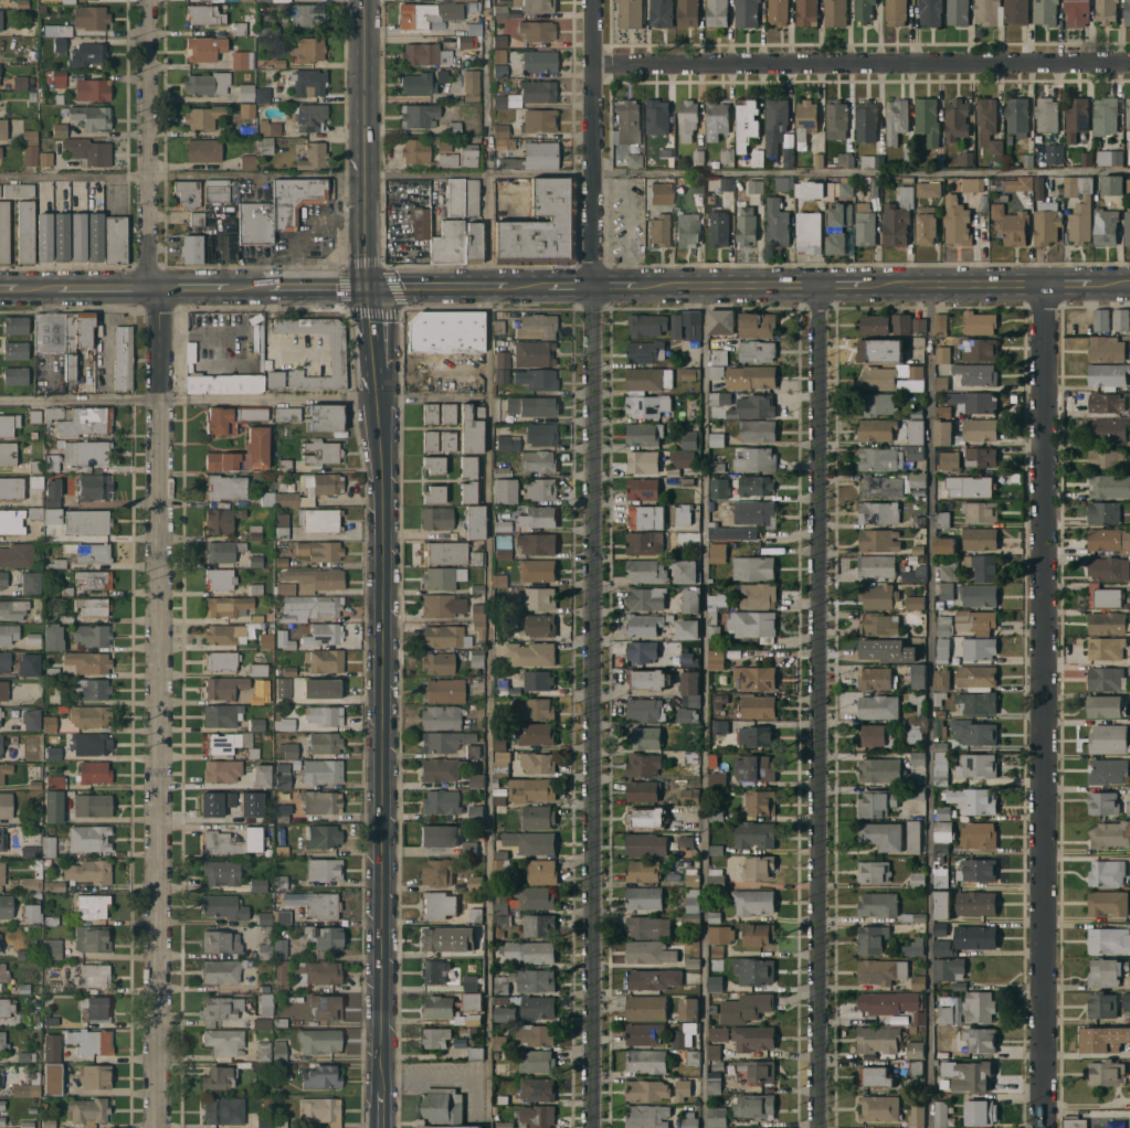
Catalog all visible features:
building: (264, 0)
building: (68, 1)
building: (22, 3)
building: (468, 6)
building: (536, 6)
building: (41, 7)
building: (251, 7)
building: (865, 10)
building: (499, 11)
building: (779, 11)
building: (1016, 11)
building: (1106, 11)
building: (302, 12)
building: (688, 12)
building: (717, 12)
building: (747, 12)
building: (807, 12)
building: (897, 12)
building: (931, 12)
building: (958, 12)
building: (989, 12)
building: (1046, 12)
building: (1077, 12)
building: (1127, 12)
building: (204, 13)
building: (429, 13)
building: (631, 13)
building: (662, 13)
building: (836, 13)
building: (91, 17)
building: (1, 20)
building: (239, 28)
building: (270, 30)
building: (537, 30)
building: (65, 31)
building: (498, 40)
building: (466, 41)
building: (60, 45)
building: (204, 47)
building: (308, 49)
building: (32, 53)
building: (420, 53)
building: (87, 54)
building: (498, 55)
building: (242, 58)
building: (539, 61)
building: (279, 63)
road: (860, 63)
building: (455, 70)
building: (499, 71)
building: (56, 77)
building: (20, 82)
building: (308, 82)
building: (207, 83)
building: (418, 83)
building: (472, 85)
building: (93, 89)
building: (537, 91)
building: (246, 92)
building: (263, 94)
building: (33, 96)
building: (41, 96)
building: (59, 98)
building: (499, 100)
building: (246, 109)
building: (1047, 114)
building: (419, 115)
building: (1107, 115)
building: (91, 116)
building: (657, 116)
building: (718, 116)
building: (1017, 116)
building: (202, 117)
building: (308, 117)
building: (1076, 117)
building: (806, 118)
building: (1128, 118)
building: (539, 119)
building: (687, 119)
building: (836, 119)
building: (897, 119)
building: (957, 119)
building: (928, 120)
building: (629, 121)
building: (867, 121)
building: (747, 123)
building: (775, 125)
building: (989, 126)
building: (3, 128)
building: (268, 128)
building: (454, 128)
building: (60, 129)
building: (245, 129)
building: (500, 130)
building: (30, 136)
building: (1010, 139)
building: (500, 142)
road: (363, 143)
building: (264, 145)
building: (88, 150)
building: (203, 150)
building: (427, 150)
building: (0, 151)
building: (1055, 153)
building: (30, 155)
building: (468, 155)
building: (728, 155)
building: (909, 155)
building: (313, 156)
building: (534, 156)
building: (788, 156)
building: (986, 156)
building: (1129, 156)
building: (699, 157)
building: (1110, 157)
building: (758, 158)
building: (965, 158)
building: (46, 159)
building: (635, 159)
building: (819, 159)
building: (1025, 159)
building: (848, 160)
building: (873, 160)
building: (247, 161)
building: (938, 161)
building: (1087, 161)
road: (860, 172)
road: (204, 173)
road: (477, 174)
road: (73, 175)
building: (908, 179)
building: (1039, 182)
building: (785, 183)
building: (1020, 183)
building: (728, 184)
building: (873, 184)
building: (969, 184)
building: (980, 184)
building: (1111, 184)
building: (697, 185)
building: (1071, 185)
building: (757, 187)
building: (929, 189)
building: (19, 190)
building: (217, 190)
building: (811, 190)
building: (838, 190)
building: (187, 193)
building: (662, 193)
building: (456, 196)
building: (472, 196)
building: (295, 200)
building: (983, 203)
building: (499, 204)
building: (997, 211)
building: (841, 214)
building: (899, 217)
building: (197, 219)
building: (1080, 221)
building: (256, 222)
building: (420, 222)
building: (777, 222)
building: (958, 222)
building: (1046, 222)
parking lot: (616, 224)
building: (865, 224)
building: (927, 224)
building: (747, 225)
building: (539, 226)
building: (1106, 226)
building: (1016, 227)
building: (1127, 227)
building: (718, 228)
building: (659, 230)
building: (687, 230)
building: (4, 231)
building: (25, 231)
building: (810, 231)
road: (307, 232)
building: (61, 236)
building: (78, 236)
building: (95, 236)
building: (44, 237)
building: (115, 240)
building: (836, 242)
building: (450, 243)
building: (473, 243)
building: (191, 249)
road: (1111, 283)
road: (842, 284)
road: (955, 284)
road: (1068, 284)
road: (439, 285)
road: (552, 285)
road: (622, 285)
road: (735, 285)
road: (306, 287)
traffic signals: (366, 287)
road: (201, 288)
road: (19, 289)
road: (96, 289)
building: (1101, 319)
building: (1121, 319)
building: (722, 321)
building: (901, 322)
building: (979, 322)
building: (691, 323)
building: (875, 323)
building: (14, 324)
building: (455, 324)
building: (647, 324)
building: (757, 324)
building: (919, 324)
building: (941, 324)
building: (498, 326)
building: (536, 326)
building: (676, 326)
building: (84, 329)
building: (425, 330)
building: (51, 333)
road: (370, 343)
building: (694, 343)
building: (71, 345)
building: (978, 348)
building: (1108, 348)
building: (15, 350)
building: (880, 350)
building: (337, 351)
building: (645, 351)
building: (757, 351)
building: (534, 352)
building: (942, 354)
building: (718, 355)
building: (123, 358)
building: (501, 359)
building: (266, 363)
building: (715, 371)
building: (916, 372)
building: (690, 373)
building: (976, 374)
building: (15, 375)
building: (500, 375)
building: (1108, 375)
building: (751, 376)
building: (219, 379)
building: (536, 379)
building: (648, 379)
building: (878, 379)
building: (941, 383)
building: (720, 397)
road: (244, 401)
building: (974, 401)
building: (1105, 402)
building: (652, 404)
building: (876, 404)
building: (531, 405)
building: (753, 406)
building: (1129, 406)
building: (1129, 409)
building: (477, 411)
building: (943, 412)
building: (52, 413)
building: (430, 413)
building: (447, 413)
building: (917, 413)
building: (288, 414)
building: (34, 415)
building: (232, 417)
building: (326, 417)
building: (84, 421)
building: (8, 424)
building: (877, 428)
building: (980, 429)
building: (471, 430)
building: (759, 430)
building: (1108, 430)
building: (916, 432)
building: (943, 432)
building: (644, 433)
building: (33, 434)
building: (541, 434)
building: (717, 437)
building: (430, 440)
building: (447, 440)
building: (690, 440)
building: (507, 441)
building: (87, 451)
building: (321, 451)
building: (7, 453)
building: (243, 453)
building: (915, 453)
building: (980, 457)
building: (1106, 457)
building: (683, 458)
building: (880, 458)
building: (757, 459)
building: (949, 460)
building: (538, 461)
building: (643, 461)
building: (434, 464)
building: (717, 464)
building: (51, 465)
building: (285, 465)
building: (35, 466)
building: (468, 466)
building: (501, 471)
building: (675, 471)
building: (281, 477)
building: (918, 479)
building: (689, 481)
building: (36, 482)
building: (757, 485)
building: (970, 486)
building: (1109, 486)
building: (94, 487)
building: (225, 487)
building: (881, 487)
building: (11, 488)
building: (541, 488)
building: (311, 489)
building: (643, 489)
building: (505, 490)
building: (468, 491)
building: (434, 493)
building: (720, 496)
building: (267, 498)
building: (52, 500)
building: (980, 510)
building: (879, 512)
building: (1103, 512)
building: (35, 513)
building: (756, 513)
building: (680, 514)
building: (52, 515)
building: (538, 517)
building: (646, 517)
building: (437, 518)
building: (942, 519)
building: (221, 520)
building: (319, 520)
building: (12, 521)
building: (88, 521)
building: (474, 521)
building: (920, 521)
building: (503, 524)
building: (282, 525)
building: (52, 531)
building: (722, 531)
building: (255, 532)
building: (980, 538)
building: (685, 539)
building: (879, 540)
building: (1109, 540)
building: (645, 542)
building: (537, 543)
building: (735, 544)
building: (944, 544)
building: (503, 546)
building: (223, 550)
building: (319, 550)
building: (918, 550)
building: (88, 552)
building: (445, 552)
building: (718, 552)
building: (17, 554)
building: (476, 557)
building: (913, 560)
building: (255, 561)
building: (281, 562)
building: (60, 563)
road: (159, 563)
road: (488, 563)
road: (592, 563)
building: (878, 565)
building: (983, 566)
building: (753, 567)
building: (1109, 568)
building: (537, 570)
building: (646, 571)
building: (685, 571)
building: (949, 571)
building: (915, 576)
building: (443, 577)
building: (3, 578)
building: (94, 578)
building: (220, 578)
building: (315, 578)
building: (500, 579)
building: (710, 581)
building: (30, 582)
building: (285, 588)
building: (477, 588)
building: (716, 588)
building: (256, 589)
building: (67, 590)
building: (947, 590)
building: (979, 594)
building: (760, 595)
building: (1105, 595)
building: (878, 596)
building: (540, 597)
building: (646, 598)
building: (691, 599)
building: (915, 603)
building: (437, 605)
building: (1127, 605)
building: (93, 606)
building: (228, 606)
building: (307, 607)
building: (13, 608)
building: (477, 613)
building: (715, 616)
building: (47, 617)
building: (66, 617)
building: (256, 618)
building: (975, 620)
building: (1107, 622)
building: (643, 624)
building: (880, 624)
building: (541, 625)
building: (752, 625)
building: (944, 625)
building: (478, 628)
building: (688, 629)
building: (325, 632)
building: (8, 634)
building: (225, 634)
building: (92, 635)
building: (500, 635)
building: (444, 636)
building: (33, 637)
building: (53, 637)
building: (258, 640)
building: (265, 640)
building: (288, 643)
building: (1106, 647)
building: (876, 648)
building: (915, 648)
building: (979, 648)
building: (942, 649)
building: (642, 651)
building: (531, 653)
building: (717, 653)
building: (476, 657)
building: (687, 657)
building: (222, 660)
building: (324, 660)
building: (4, 661)
building: (87, 661)
building: (439, 662)
building: (29, 664)
building: (258, 669)
building: (286, 670)
building: (919, 675)
building: (976, 677)
building: (757, 678)
building: (876, 678)
building: (1107, 678)
building: (651, 679)
building: (942, 679)
building: (538, 680)
building: (509, 681)
building: (690, 682)
building: (224, 687)
building: (283, 687)
building: (91, 688)
building: (323, 688)
building: (3, 690)
building: (444, 690)
building: (503, 690)
building: (717, 696)
building: (256, 699)
building: (938, 699)
building: (919, 702)
building: (978, 702)
road: (929, 705)
road: (1042, 705)
road: (706, 706)
building: (758, 706)
road: (816, 706)
building: (878, 706)
building: (1107, 706)
building: (537, 709)
building: (646, 709)
building: (689, 709)
building: (940, 713)
building: (222, 714)
building: (93, 715)
building: (325, 715)
building: (441, 717)
building: (30, 719)
building: (285, 723)
building: (50, 724)
building: (256, 724)
building: (719, 726)
building: (939, 728)
building: (915, 730)
building: (534, 733)
building: (975, 733)
building: (267, 735)
building: (758, 735)
building: (876, 735)
building: (645, 737)
building: (1109, 738)
road: (381, 741)
building: (444, 741)
building: (325, 742)
building: (76, 743)
building: (232, 743)
building: (499, 743)
building: (0, 744)
building: (947, 745)
building: (34, 751)
building: (291, 751)
building: (473, 751)
building: (690, 756)
building: (918, 758)
building: (474, 762)
building: (537, 762)
building: (501, 763)
building: (643, 764)
building: (979, 766)
building: (756, 767)
building: (440, 768)
building: (222, 769)
building: (880, 769)
building: (4, 770)
building: (321, 770)
building: (1107, 770)
building: (94, 771)
building: (284, 771)
building: (262, 775)
building: (718, 778)
building: (940, 779)
building: (476, 780)
building: (54, 781)
building: (496, 783)
building: (34, 784)
building: (531, 789)
building: (643, 790)
building: (919, 792)
building: (689, 795)
building: (499, 799)
building: (973, 800)
building: (320, 801)
building: (760, 801)
building: (876, 802)
building: (1102, 802)
building: (252, 804)
building: (93, 805)
building: (221, 805)
building: (440, 805)
building: (7, 806)
building: (53, 806)
building: (1129, 808)
building: (499, 809)
building: (282, 811)
building: (476, 812)
building: (944, 812)
building: (262, 813)
building: (35, 815)
building: (717, 815)
building: (538, 816)
building: (646, 817)
building: (943, 831)
building: (440, 834)
building: (754, 834)
building: (979, 834)
building: (1110, 834)
building: (323, 836)
building: (884, 836)
building: (913, 836)
building: (89, 838)
building: (2, 840)
building: (234, 841)
building: (532, 842)
building: (682, 842)
building: (645, 844)
building: (49, 845)
building: (469, 848)
building: (941, 848)
building: (716, 849)
building: (30, 851)
building: (500, 854)
building: (938, 858)
building: (501, 865)
building: (758, 866)
building: (325, 869)
building: (976, 869)
building: (645, 870)
building: (88, 871)
building: (874, 871)
building: (2, 872)
building: (222, 872)
building: (436, 872)
building: (542, 872)
building: (1107, 872)
building: (33, 876)
building: (941, 876)
building: (717, 879)
building: (693, 880)
building: (918, 880)
building: (281, 882)
building: (475, 882)
building: (53, 885)
building: (257, 885)
building: (536, 897)
building: (644, 897)
building: (693, 901)
building: (975, 903)
building: (1108, 903)
building: (439, 904)
building: (500, 904)
building: (754, 904)
building: (878, 904)
building: (6, 905)
building: (91, 905)
building: (323, 905)
building: (942, 905)
building: (224, 906)
building: (29, 913)
building: (474, 914)
building: (282, 916)
building: (715, 916)
building: (264, 917)
building: (912, 917)
building: (504, 919)
building: (691, 919)
building: (51, 921)
building: (539, 925)
building: (647, 927)
building: (267, 928)
building: (940, 929)
building: (720, 934)
building: (759, 934)
building: (501, 935)
building: (975, 936)
building: (0, 937)
building: (325, 937)
building: (92, 938)
building: (1109, 938)
building: (434, 939)
building: (873, 939)
building: (220, 941)
building: (944, 947)
building: (279, 948)
building: (912, 949)
building: (51, 950)
building: (264, 950)
building: (717, 950)
building: (529, 951)
building: (648, 951)
building: (22, 954)
building: (693, 962)
building: (716, 964)
building: (948, 968)
building: (220, 970)
building: (753, 970)
building: (881, 970)
building: (318, 971)
building: (434, 971)
building: (1107, 971)
building: (3, 972)
building: (95, 975)
building: (281, 976)
building: (653, 978)
building: (535, 980)
building: (715, 982)
building: (918, 982)
building: (471, 983)
building: (501, 985)
building: (960, 986)
building: (22, 988)
building: (946, 993)
building: (53, 997)
building: (500, 999)
building: (1126, 1000)
building: (893, 1003)
building: (265, 1004)
building: (450, 1004)
building: (1101, 1004)
building: (7, 1005)
building: (95, 1005)
building: (326, 1007)
building: (538, 1007)
building: (746, 1007)
building: (979, 1007)
building: (220, 1008)
building: (646, 1008)
building: (688, 1008)
building: (712, 1012)
building: (505, 1013)
building: (944, 1014)
building: (36, 1017)
building: (468, 1020)
building: (279, 1021)
building: (54, 1022)
building: (265, 1022)
building: (921, 1028)
building: (464, 1030)
building: (644, 1033)
building: (719, 1033)
building: (534, 1034)
building: (684, 1034)
building: (435, 1037)
building: (878, 1039)
building: (1103, 1039)
building: (318, 1040)
building: (754, 1040)
building: (981, 1040)
building: (3, 1041)
building: (91, 1041)
building: (224, 1042)
building: (461, 1042)
building: (499, 1042)
building: (52, 1046)
building: (279, 1050)
building: (915, 1050)
building: (263, 1051)
building: (714, 1051)
building: (476, 1053)
building: (496, 1054)
building: (23, 1056)
building: (694, 1057)
building: (536, 1061)
building: (646, 1061)
building: (718, 1065)
building: (261, 1066)
building: (916, 1067)
building: (759, 1068)
building: (281, 1071)
building: (1106, 1072)
building: (970, 1074)
road: (447, 1075)
building: (95, 1076)
building: (321, 1076)
building: (875, 1076)
building: (21, 1077)
building: (218, 1077)
building: (52, 1078)
building: (715, 1083)
building: (538, 1089)
building: (683, 1089)
building: (646, 1090)
building: (503, 1098)
building: (266, 1102)
building: (1, 1104)
building: (43, 1105)
road: (381, 1105)
building: (754, 1106)
building: (443, 1108)
building: (879, 1108)
building: (32, 1109)
building: (320, 1109)
building: (495, 1109)
building: (87, 1110)
building: (223, 1110)
building: (980, 1111)
building: (941, 1114)
building: (917, 1115)
building: (538, 1116)
building: (647, 1116)
building: (718, 1117)
building: (262, 1119)
building: (1, 1120)
building: (279, 1120)
building: (689, 1120)
building: (47, 1121)
building: (1075, 1121)
building: (25, 1124)
building: (506, 1125)
building: (855, 1127)
building: (859, 1127)
building: (896, 1127)
building: (947, 1127)

